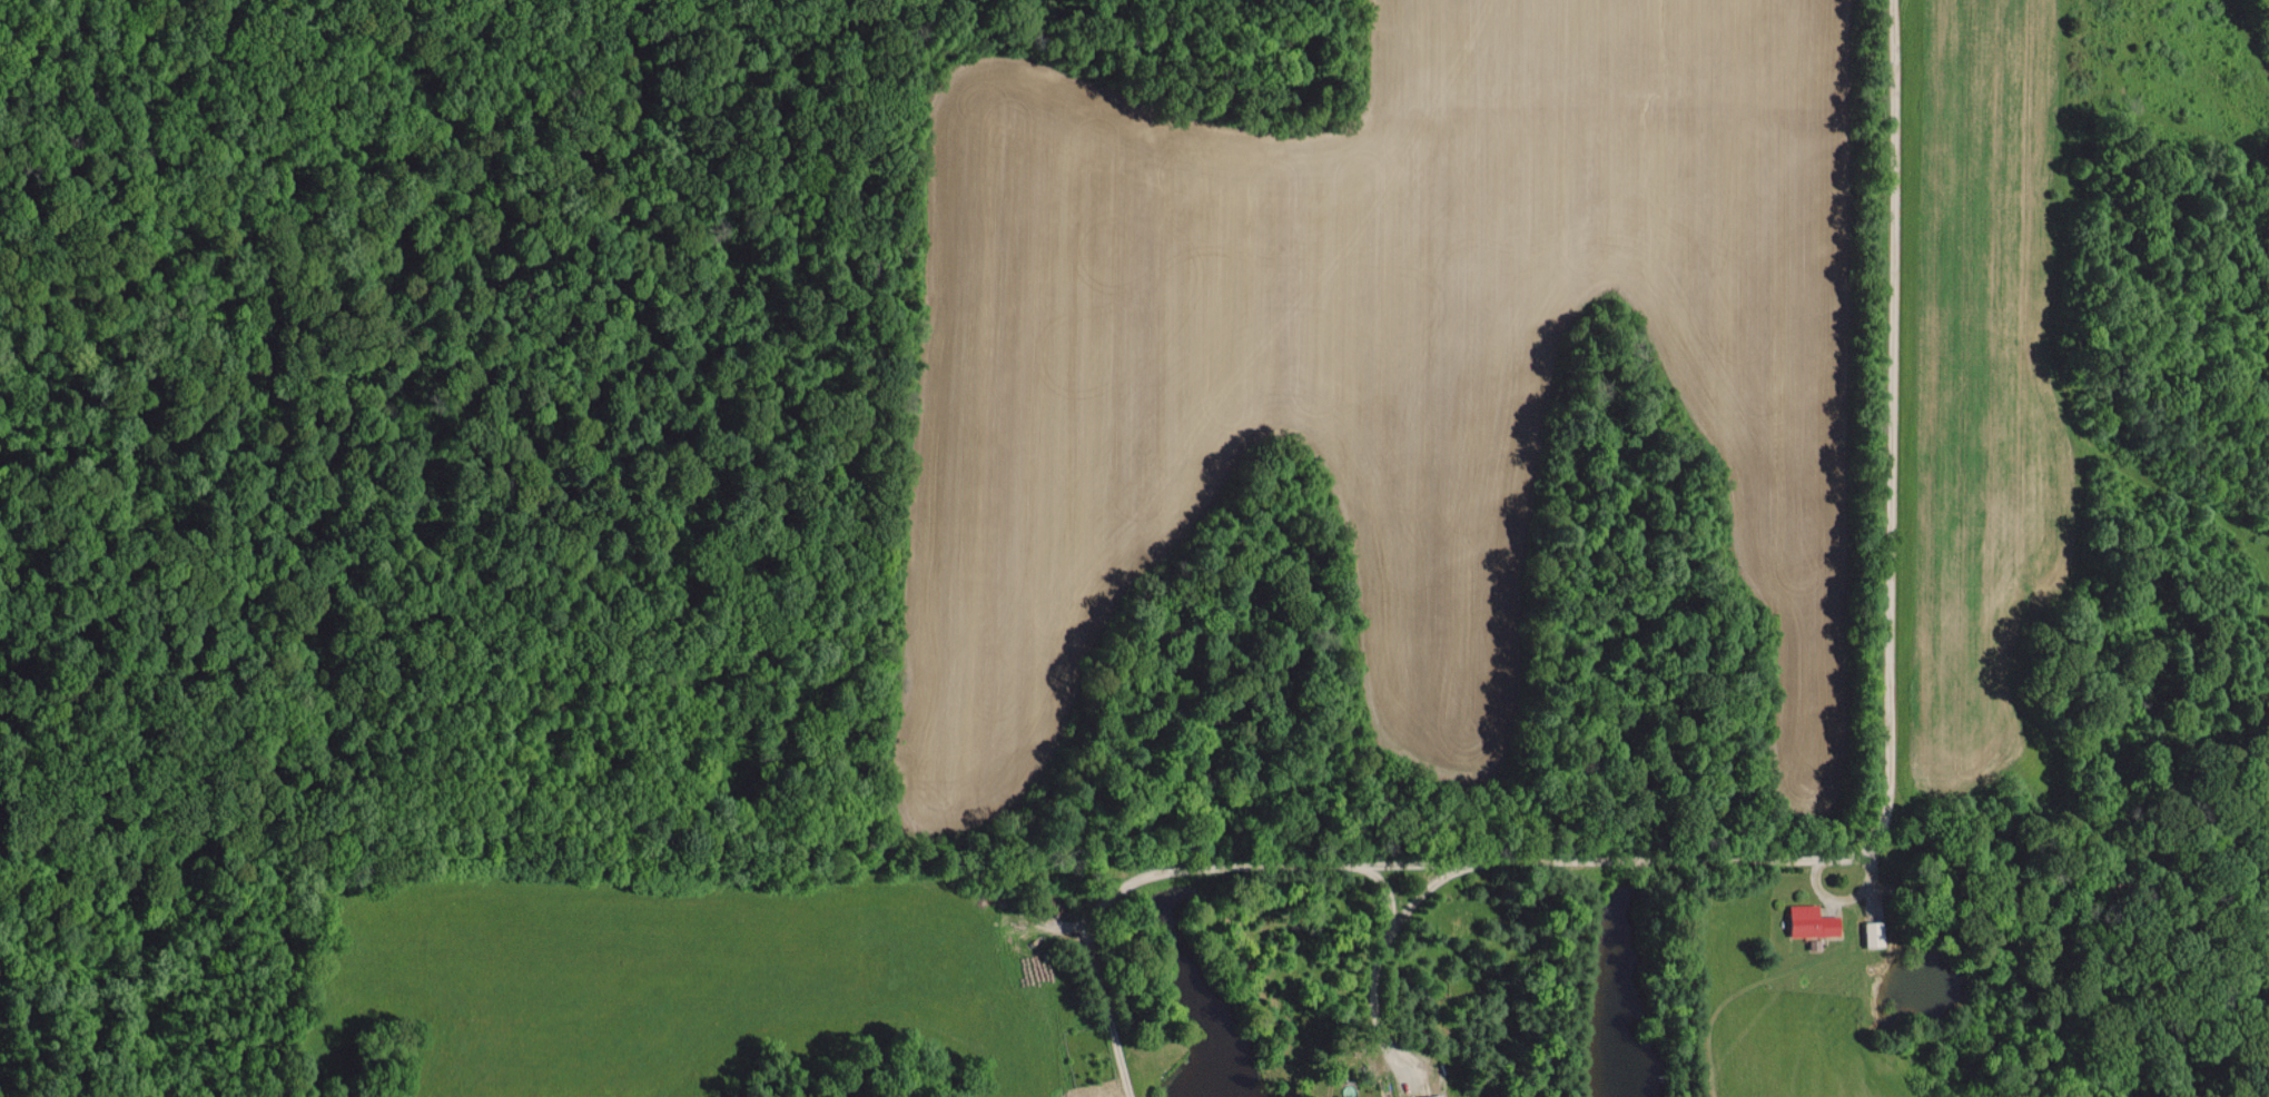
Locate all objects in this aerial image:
road: (1805, 859)
road: (1425, 887)
building: (1806, 920)
building: (1870, 932)
road: (1372, 968)
building: (1428, 1095)

